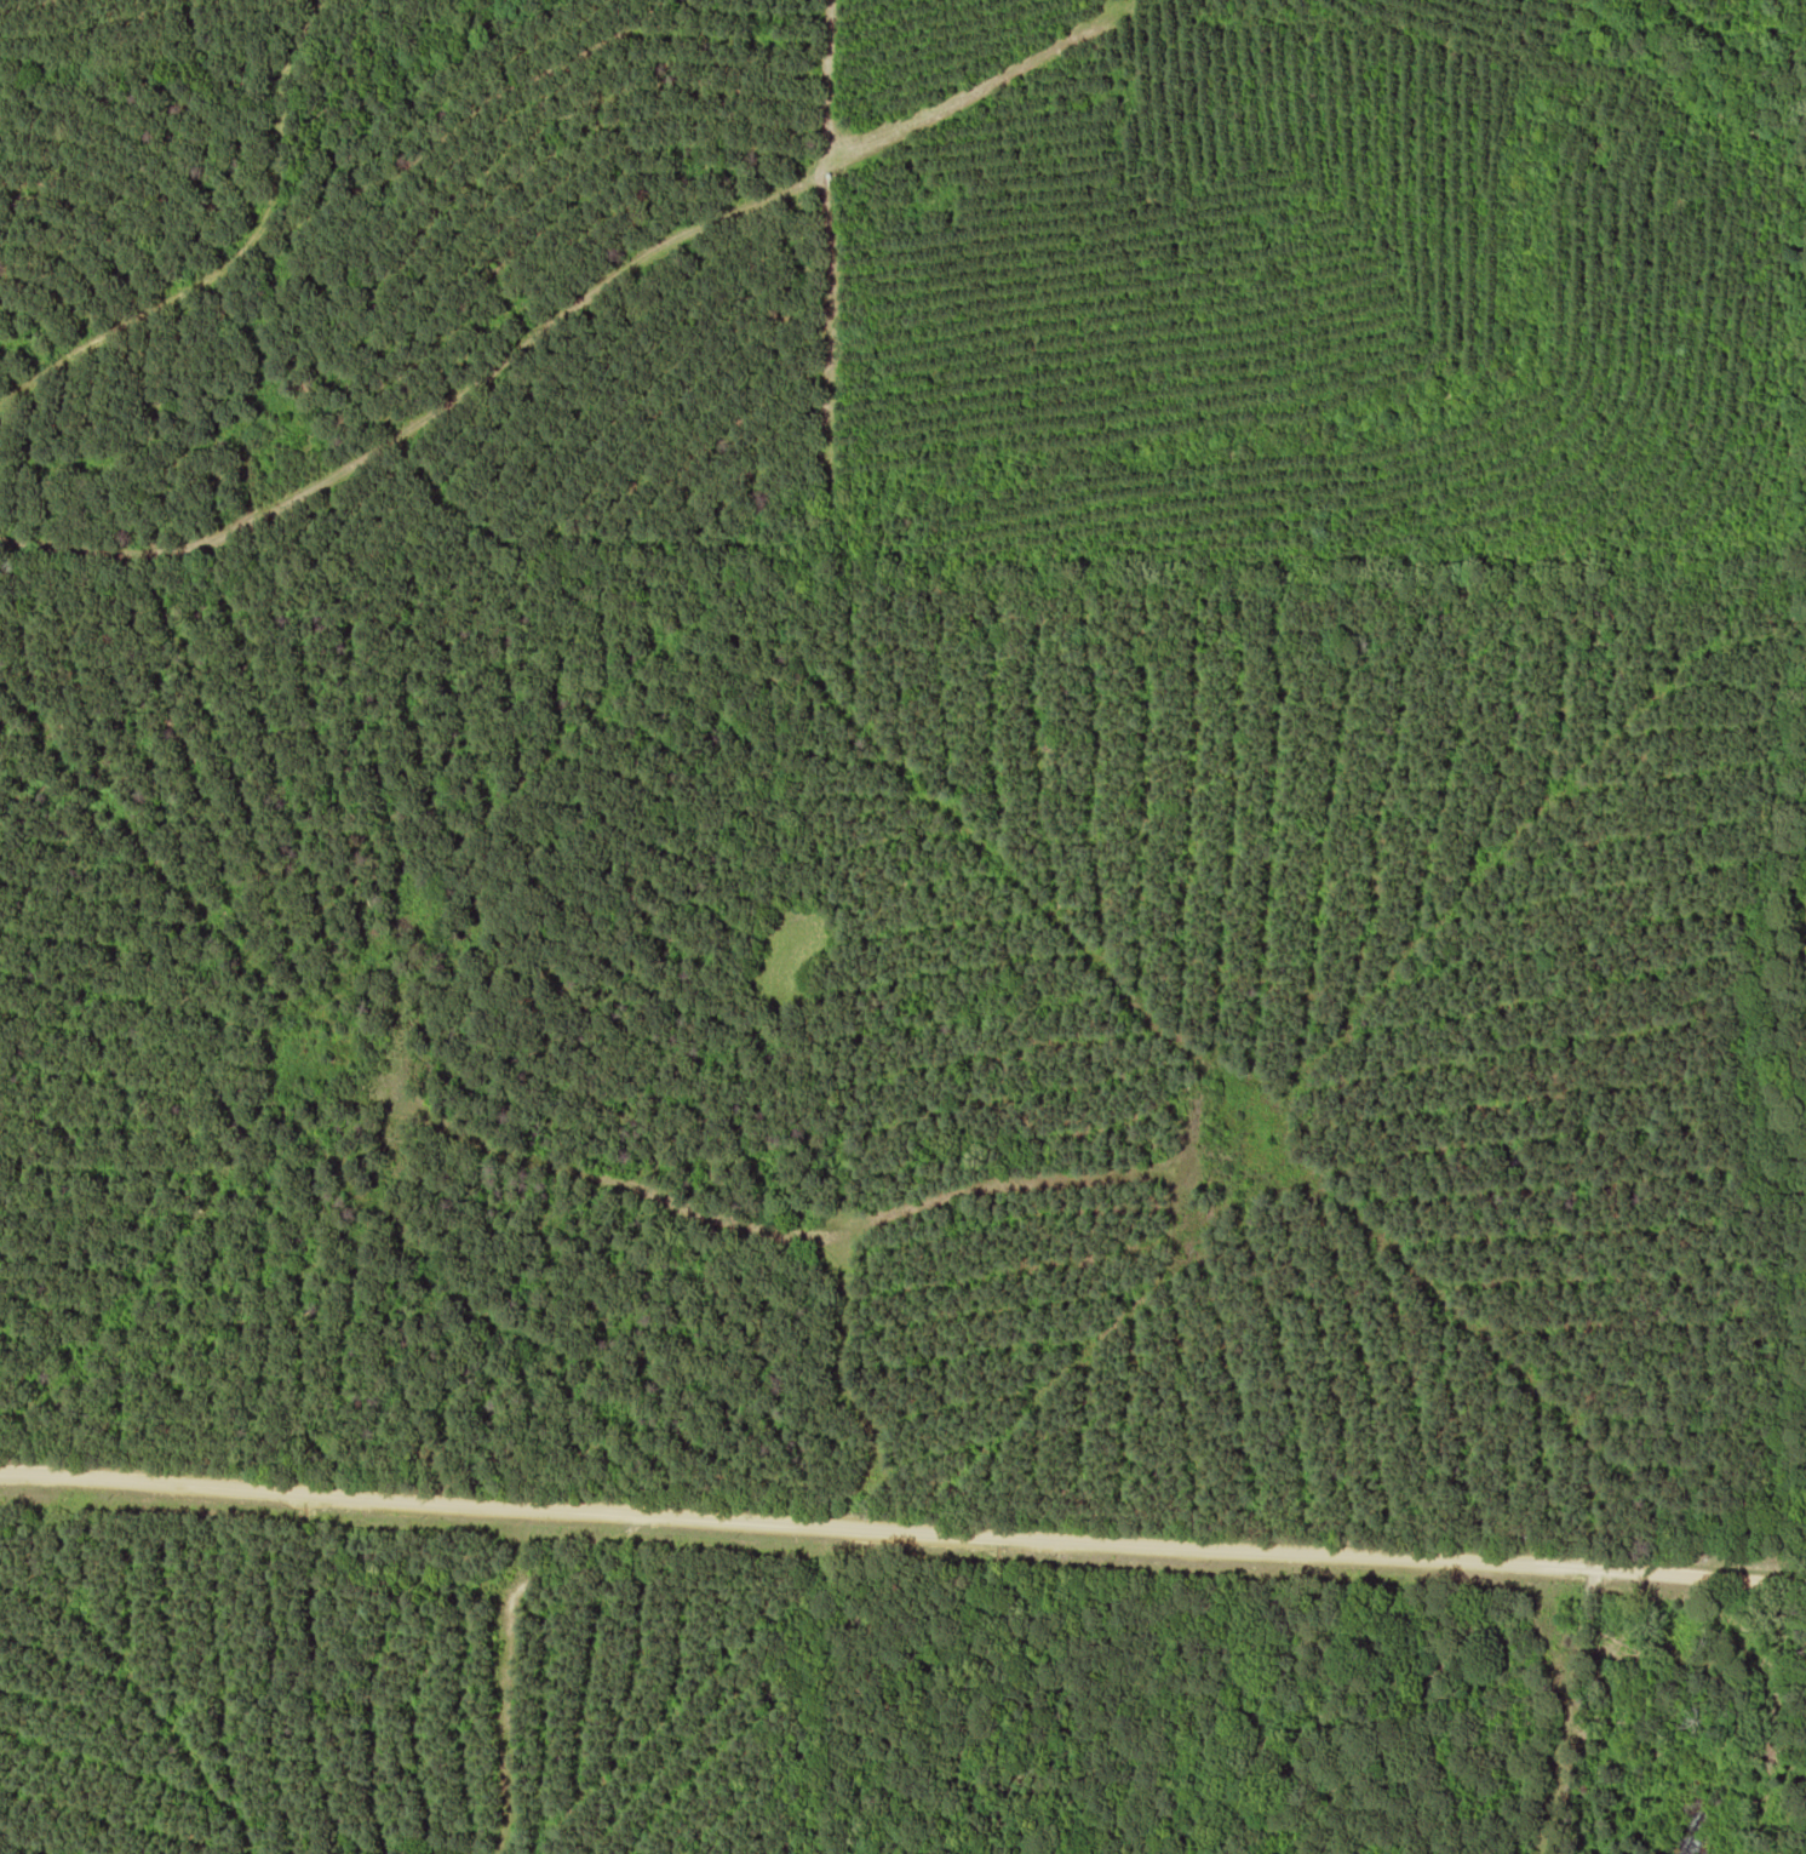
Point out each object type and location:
road: (902, 1527)

